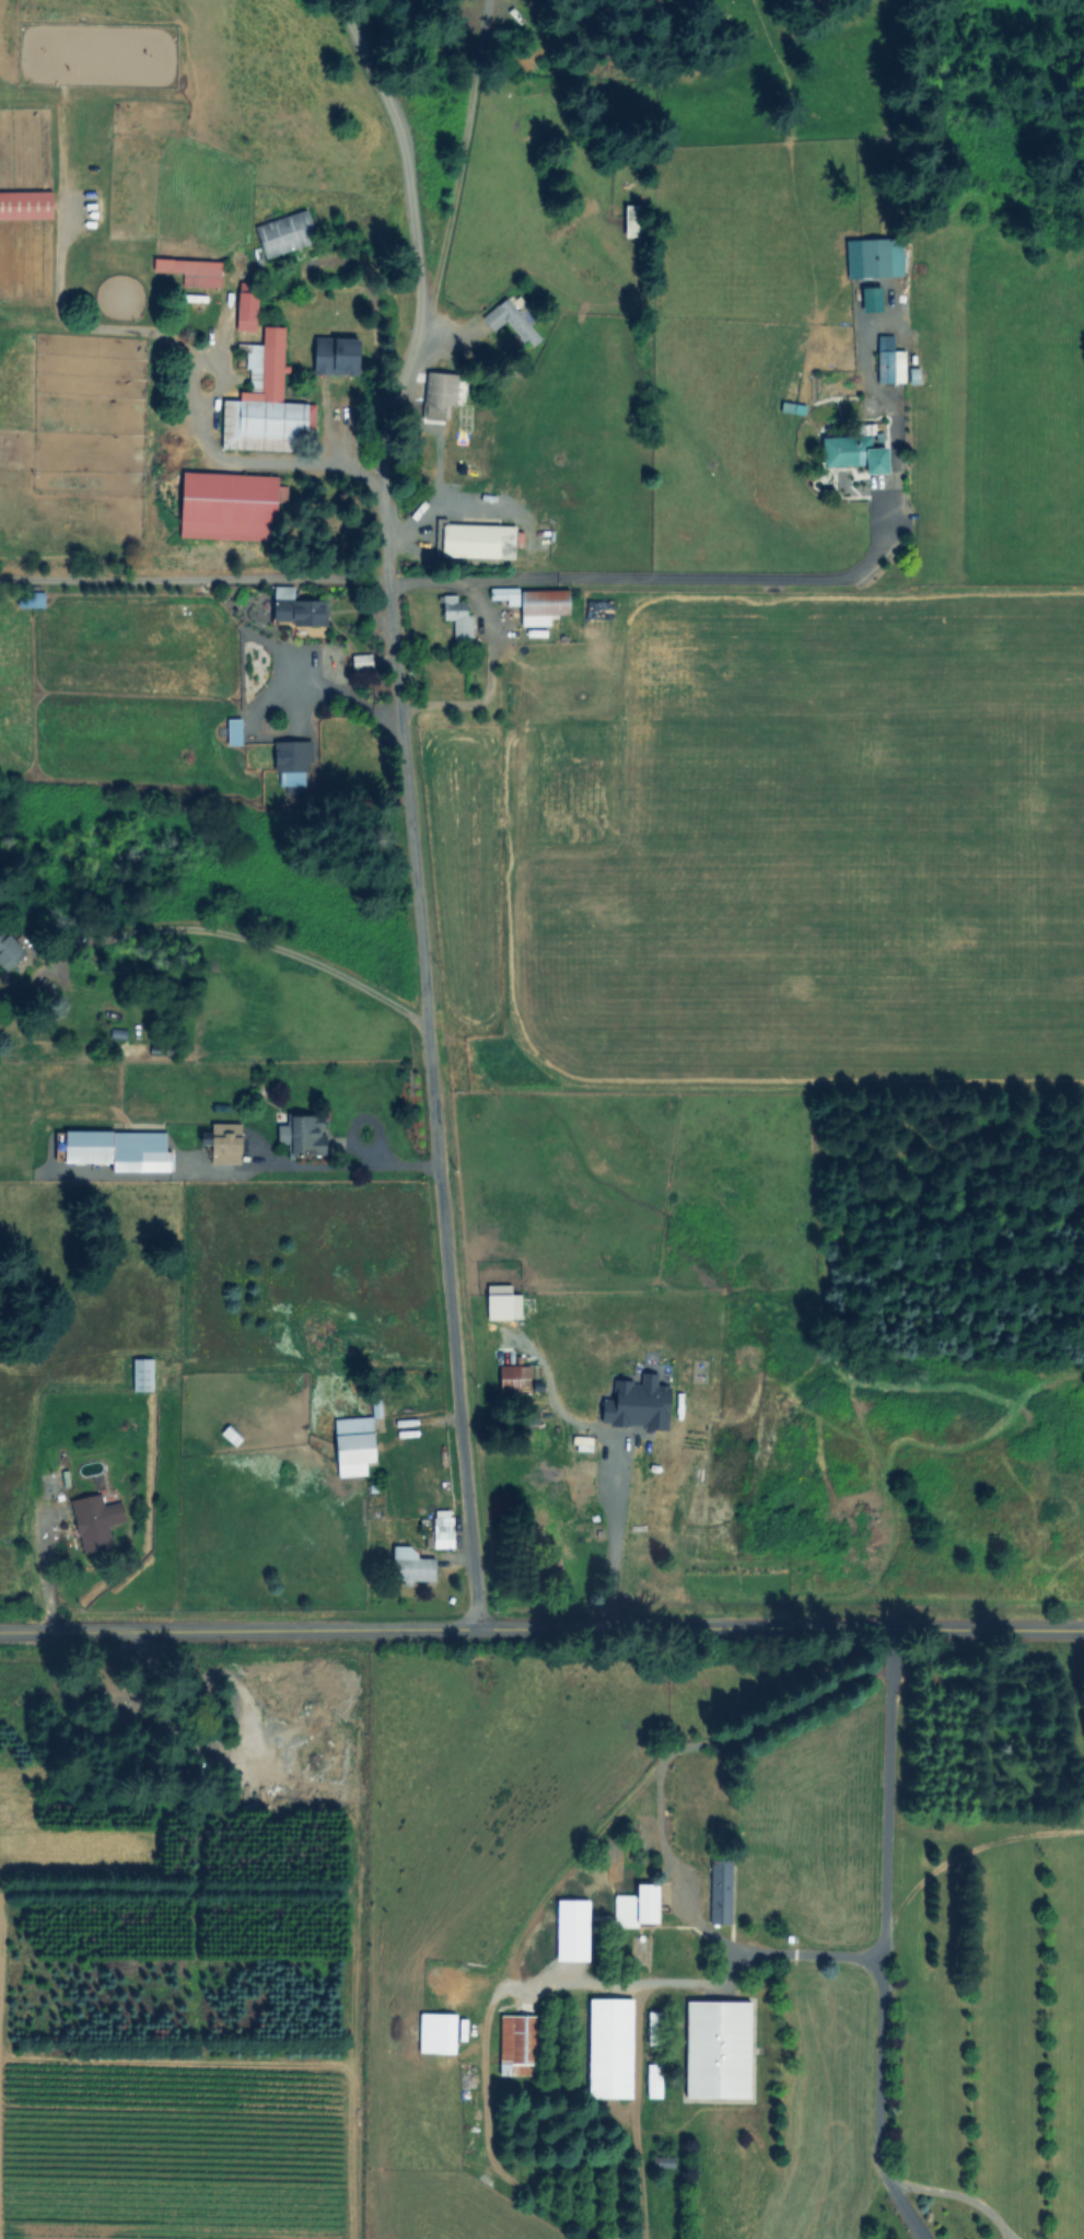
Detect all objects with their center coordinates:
road: (464, 164)
road: (408, 182)
building: (25, 207)
building: (637, 222)
building: (284, 236)
building: (877, 257)
building: (191, 274)
building: (247, 309)
building: (513, 324)
building: (337, 358)
building: (885, 361)
building: (439, 399)
building: (265, 406)
road: (333, 430)
building: (464, 441)
building: (850, 455)
road: (312, 459)
building: (230, 509)
building: (476, 541)
road: (469, 582)
building: (506, 595)
building: (34, 600)
building: (544, 606)
building: (300, 610)
building: (461, 617)
building: (363, 663)
road: (487, 680)
building: (235, 731)
building: (294, 762)
road: (248, 940)
building: (10, 951)
road: (429, 999)
building: (113, 1012)
building: (138, 1045)
building: (280, 1116)
building: (306, 1135)
building: (226, 1144)
building: (154, 1159)
road: (347, 1167)
building: (145, 1373)
building: (515, 1380)
building: (378, 1407)
building: (597, 1430)
building: (233, 1436)
building: (354, 1445)
building: (586, 1482)
building: (97, 1522)
building: (442, 1532)
building: (578, 1536)
road: (609, 1539)
building: (411, 1565)
road: (541, 1628)
building: (693, 1798)
building: (720, 1894)
building: (638, 1910)
road: (809, 1952)
road: (884, 1975)
building: (440, 1981)
building: (438, 2035)
building: (516, 2046)
building: (610, 2050)
building: (719, 2052)
road: (896, 2202)

